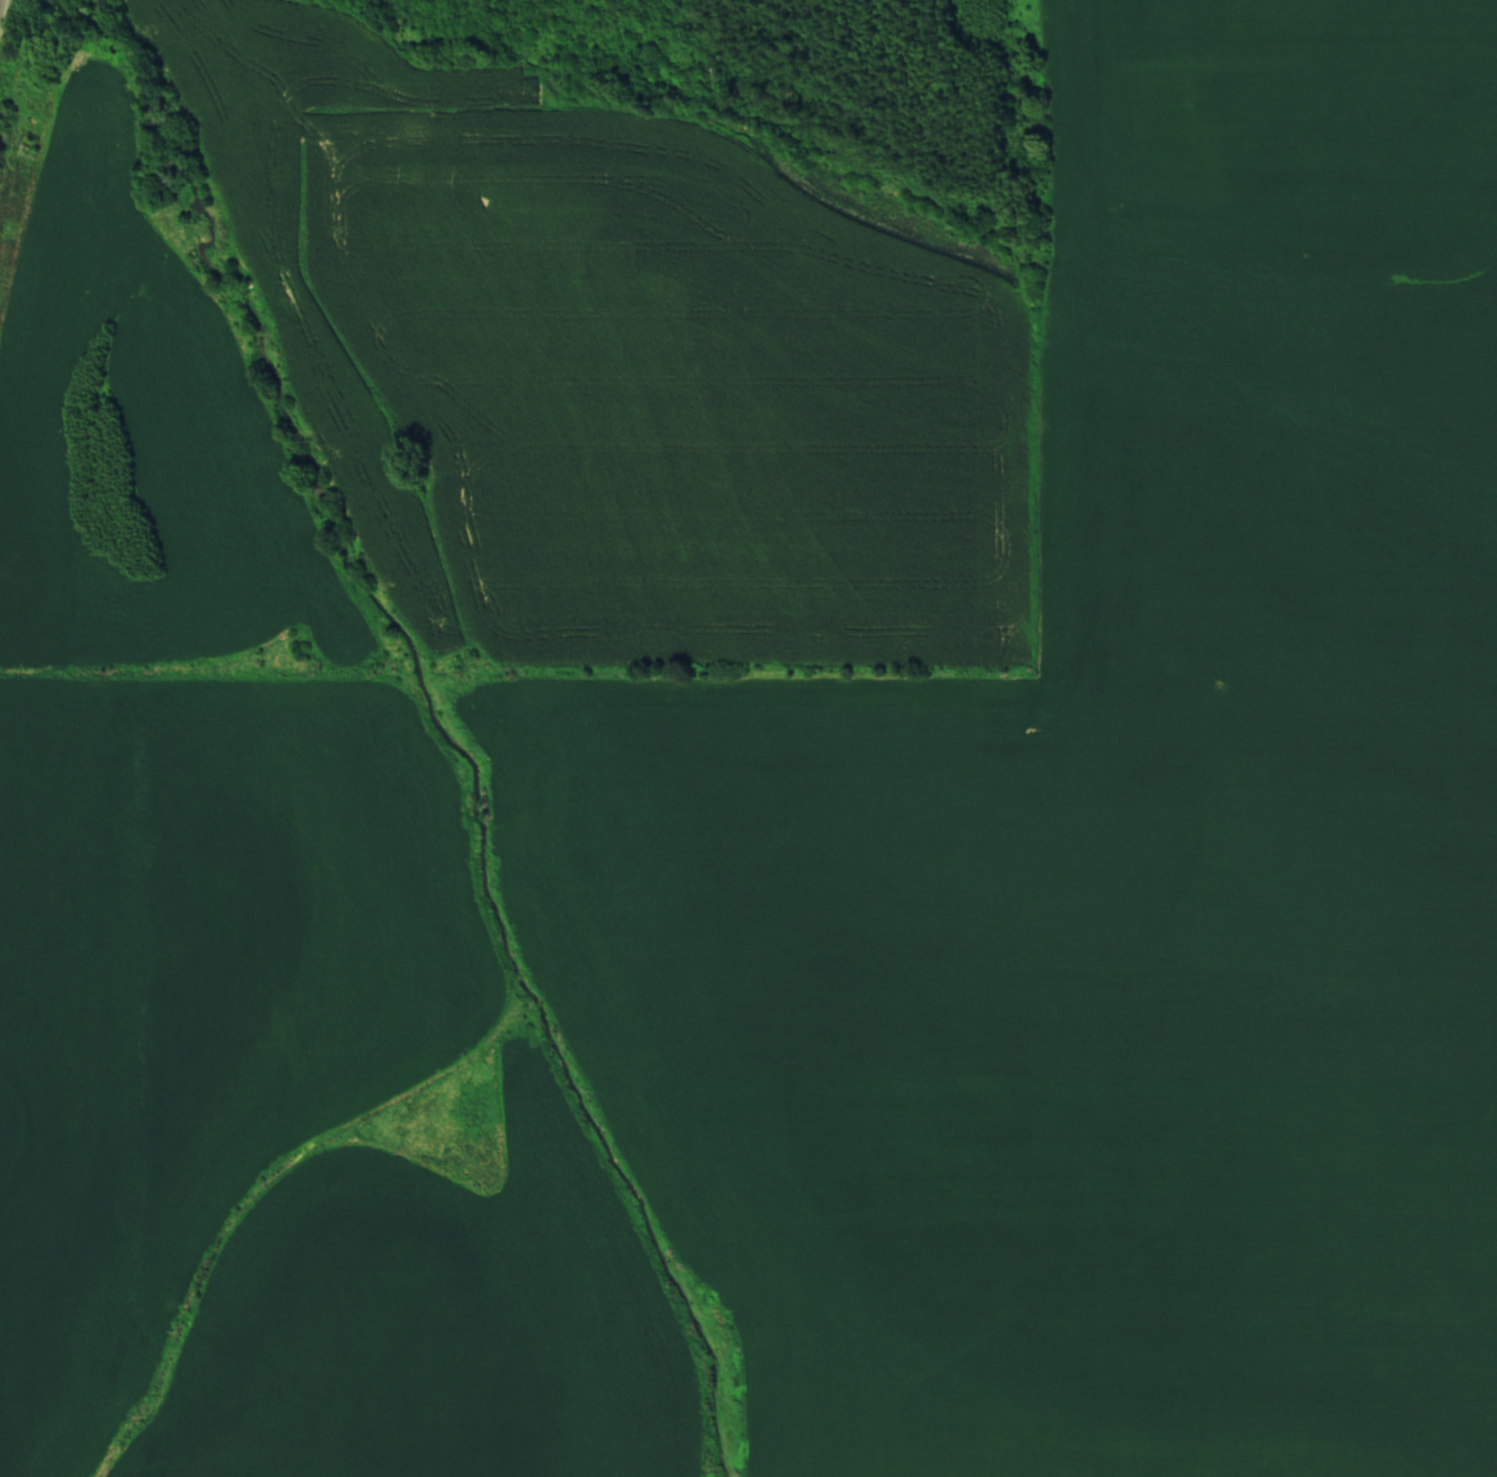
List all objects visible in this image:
railway: (2, 9)

